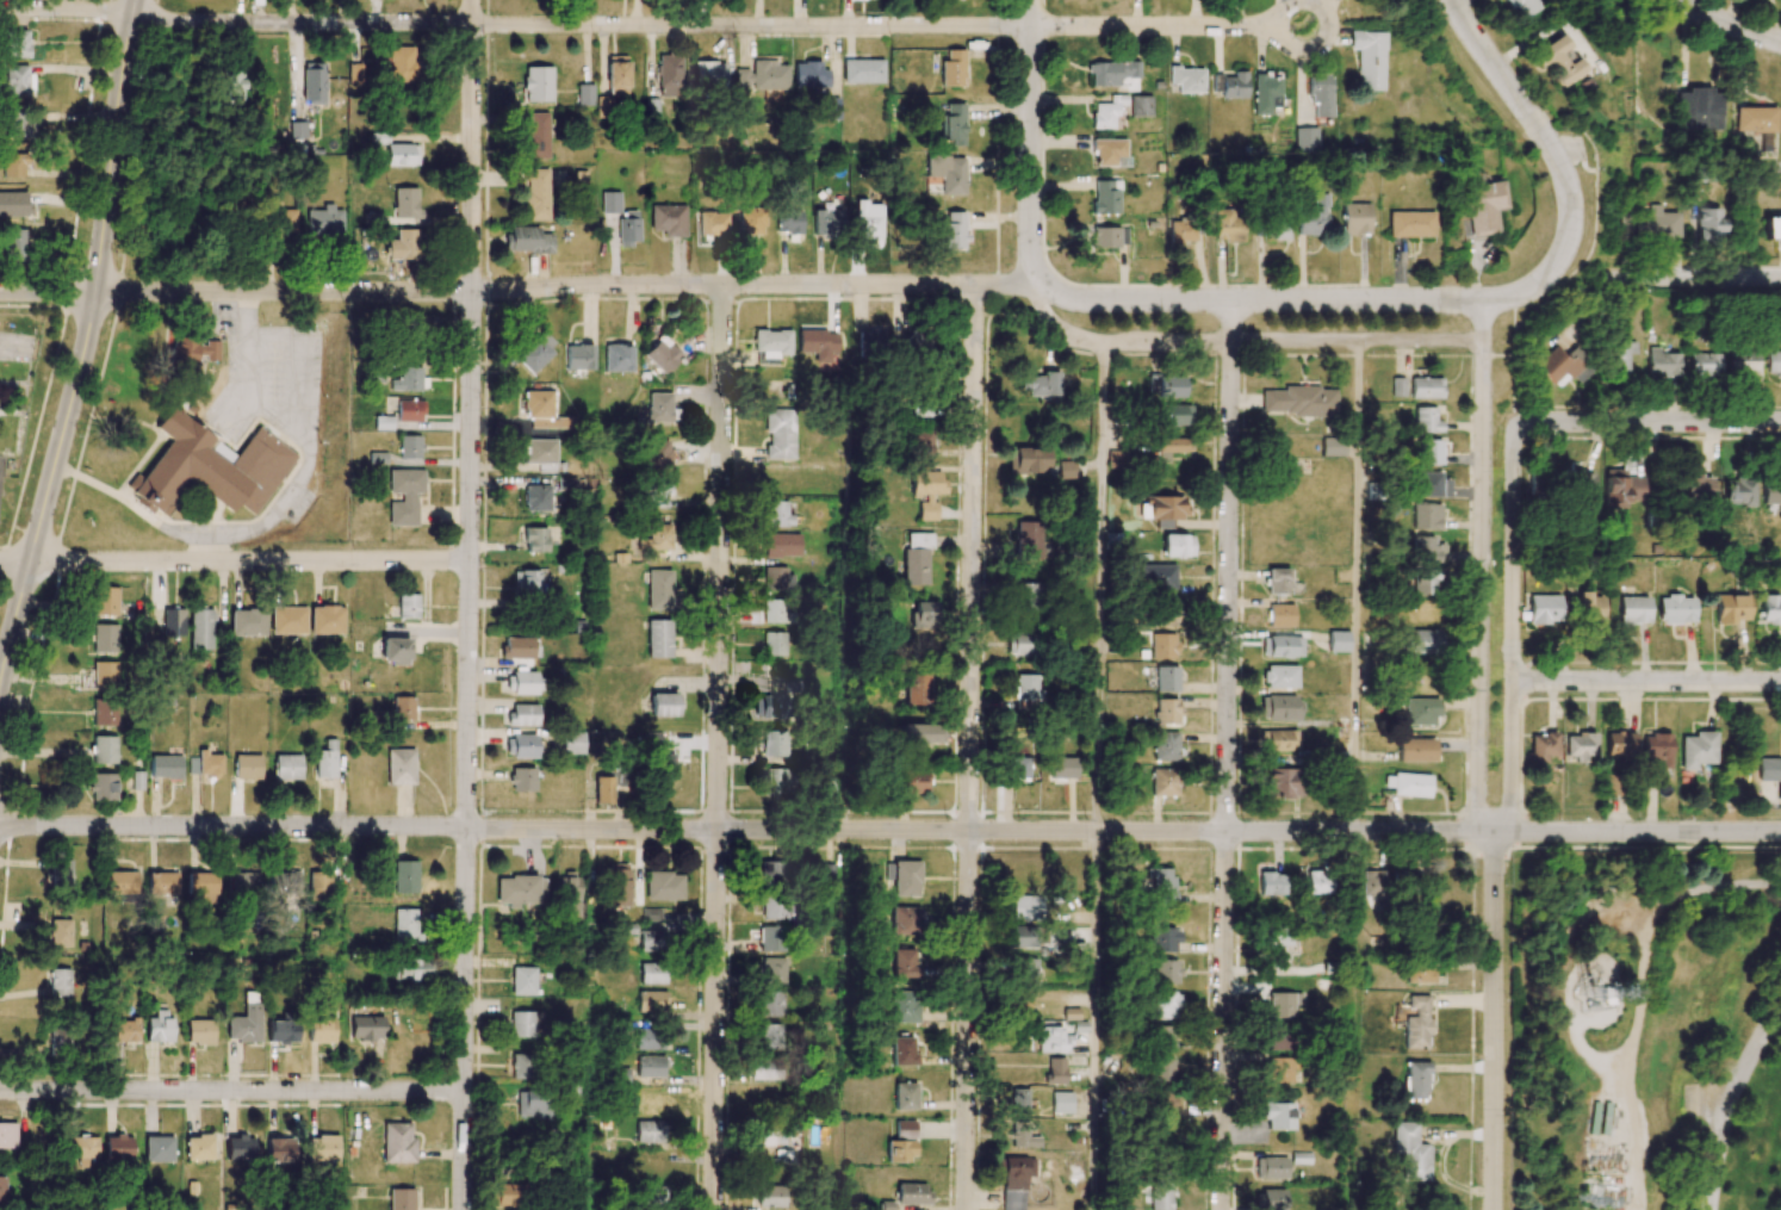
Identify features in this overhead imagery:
building: (1522, 7)
road: (514, 24)
road: (1732, 25)
road: (1168, 26)
building: (15, 44)
building: (1369, 58)
building: (1557, 61)
building: (402, 64)
building: (952, 68)
building: (863, 72)
building: (1112, 72)
building: (709, 73)
building: (354, 74)
building: (668, 74)
building: (616, 75)
building: (809, 75)
building: (759, 76)
building: (17, 79)
building: (1186, 79)
building: (230, 81)
building: (314, 83)
building: (536, 83)
building: (1229, 85)
building: (1266, 93)
building: (584, 94)
building: (1321, 95)
building: (604, 106)
building: (1141, 106)
building: (830, 108)
building: (1699, 110)
building: (1106, 112)
building: (1755, 119)
building: (14, 124)
building: (952, 125)
building: (297, 129)
building: (535, 136)
building: (379, 138)
building: (1307, 139)
road: (1030, 144)
building: (1109, 151)
building: (401, 155)
building: (12, 165)
building: (947, 172)
building: (535, 194)
building: (1105, 197)
building: (405, 201)
building: (610, 201)
building: (13, 204)
building: (1483, 206)
building: (1314, 216)
building: (1355, 218)
building: (668, 219)
building: (751, 219)
building: (868, 219)
building: (829, 221)
building: (324, 222)
building: (789, 222)
building: (712, 223)
building: (1649, 223)
building: (283, 224)
building: (1229, 224)
building: (1409, 224)
building: (628, 227)
building: (1276, 227)
building: (1708, 227)
building: (1773, 228)
building: (954, 231)
building: (1181, 231)
building: (1102, 237)
building: (527, 240)
building: (14, 244)
building: (403, 244)
road: (1694, 277)
road: (517, 288)
road: (1451, 299)
road: (1245, 341)
building: (918, 342)
building: (772, 343)
building: (818, 343)
building: (870, 343)
road: (81, 346)
building: (534, 350)
building: (190, 352)
building: (663, 352)
building: (578, 356)
building: (1622, 359)
building: (618, 360)
building: (1743, 361)
building: (1662, 362)
building: (1774, 362)
building: (1704, 364)
building: (1564, 366)
building: (409, 379)
road: (242, 380)
building: (1038, 384)
building: (1165, 385)
building: (1397, 386)
building: (1426, 387)
building: (1297, 401)
building: (660, 407)
building: (918, 409)
building: (409, 410)
building: (542, 410)
building: (1172, 414)
building: (1426, 420)
building: (383, 422)
road: (1649, 422)
building: (780, 433)
road: (303, 435)
building: (920, 442)
building: (410, 446)
building: (1332, 446)
building: (1171, 447)
building: (540, 451)
building: (1429, 452)
building: (657, 458)
building: (1116, 459)
building: (1026, 460)
building: (210, 467)
building: (1066, 470)
building: (1285, 472)
building: (1582, 482)
building: (1537, 483)
building: (1431, 485)
building: (1622, 486)
building: (1696, 486)
building: (1771, 490)
building: (926, 491)
building: (1738, 491)
building: (657, 494)
building: (404, 495)
building: (536, 497)
road: (126, 504)
building: (1163, 509)
building: (777, 514)
building: (1426, 516)
building: (656, 538)
building: (535, 539)
building: (1028, 539)
building: (782, 545)
building: (1178, 545)
building: (1426, 550)
building: (917, 557)
road: (234, 560)
road: (1481, 567)
building: (1156, 576)
building: (777, 578)
building: (1278, 581)
building: (1425, 581)
building: (526, 583)
road: (1098, 584)
road: (1355, 585)
building: (658, 589)
building: (1031, 597)
building: (105, 601)
road: (467, 604)
building: (404, 607)
building: (1731, 608)
building: (1544, 609)
building: (1633, 609)
building: (1676, 609)
building: (1770, 609)
building: (775, 610)
building: (1590, 610)
building: (1427, 612)
building: (1163, 613)
building: (1280, 615)
building: (287, 620)
building: (327, 620)
building: (173, 622)
building: (248, 622)
building: (201, 628)
building: (658, 638)
building: (106, 639)
building: (1338, 641)
building: (1425, 641)
building: (774, 644)
building: (1020, 644)
building: (1162, 646)
building: (1282, 646)
building: (519, 647)
building: (395, 650)
building: (105, 675)
building: (1280, 676)
building: (1166, 678)
road: (1646, 682)
building: (520, 683)
building: (1025, 687)
building: (917, 689)
building: (664, 705)
building: (770, 706)
building: (403, 708)
building: (1279, 708)
building: (1166, 711)
building: (105, 712)
building: (1420, 712)
building: (522, 714)
building: (921, 734)
building: (1279, 739)
building: (571, 743)
building: (774, 743)
building: (1620, 743)
building: (1163, 745)
building: (1580, 745)
building: (520, 746)
road: (718, 746)
building: (1543, 746)
road: (969, 747)
building: (104, 749)
building: (1415, 750)
building: (1696, 750)
building: (1657, 751)
road: (1225, 755)
building: (325, 759)
building: (209, 763)
building: (165, 767)
building: (247, 767)
building: (287, 767)
building: (399, 767)
building: (1017, 768)
building: (1062, 768)
building: (1770, 771)
building: (660, 772)
building: (521, 778)
building: (780, 781)
building: (913, 781)
building: (1163, 782)
building: (1282, 782)
building: (1407, 784)
building: (1612, 784)
building: (103, 787)
building: (602, 789)
road: (1503, 818)
road: (889, 830)
building: (63, 873)
building: (771, 873)
building: (827, 874)
building: (404, 876)
building: (901, 877)
building: (286, 881)
building: (123, 882)
building: (1316, 882)
building: (1372, 882)
building: (162, 883)
building: (242, 883)
building: (1270, 883)
building: (619, 885)
building: (1160, 885)
building: (318, 886)
building: (664, 886)
building: (201, 887)
building: (519, 889)
building: (570, 894)
building: (776, 907)
building: (1024, 907)
building: (651, 914)
building: (904, 920)
building: (404, 926)
building: (58, 932)
building: (1020, 937)
building: (1279, 937)
building: (771, 938)
building: (1162, 939)
building: (652, 941)
building: (904, 963)
building: (409, 969)
building: (1023, 969)
building: (771, 970)
building: (1166, 972)
building: (652, 973)
building: (1419, 973)
building: (522, 981)
building: (60, 982)
building: (652, 1000)
building: (1022, 1001)
building: (771, 1004)
building: (1283, 1004)
building: (1165, 1005)
building: (902, 1006)
building: (246, 1020)
road: (1092, 1020)
building: (1416, 1022)
building: (520, 1024)
building: (159, 1026)
building: (365, 1028)
building: (319, 1029)
building: (125, 1030)
building: (199, 1031)
building: (281, 1031)
building: (770, 1034)
building: (1279, 1036)
building: (1161, 1037)
building: (649, 1038)
building: (1051, 1040)
building: (58, 1041)
building: (902, 1050)
building: (519, 1066)
building: (651, 1066)
building: (1162, 1069)
building: (1279, 1069)
building: (761, 1071)
building: (1055, 1071)
building: (1416, 1080)
road: (231, 1091)
building: (905, 1096)
building: (1018, 1099)
building: (1163, 1100)
road: (1729, 1100)
building: (1061, 1102)
building: (649, 1103)
building: (533, 1104)
building: (1279, 1115)
building: (1593, 1117)
building: (904, 1129)
building: (650, 1131)
building: (7, 1135)
building: (1022, 1135)
building: (769, 1137)
building: (397, 1142)
building: (118, 1147)
building: (199, 1147)
building: (238, 1147)
building: (321, 1148)
building: (82, 1149)
building: (159, 1149)
building: (277, 1150)
building: (900, 1150)
building: (1409, 1152)
building: (1272, 1167)
building: (1016, 1180)
building: (2, 1189)
building: (912, 1193)
building: (507, 1195)
building: (654, 1196)
building: (770, 1196)
building: (1160, 1196)
building: (401, 1199)
building: (1270, 1199)

